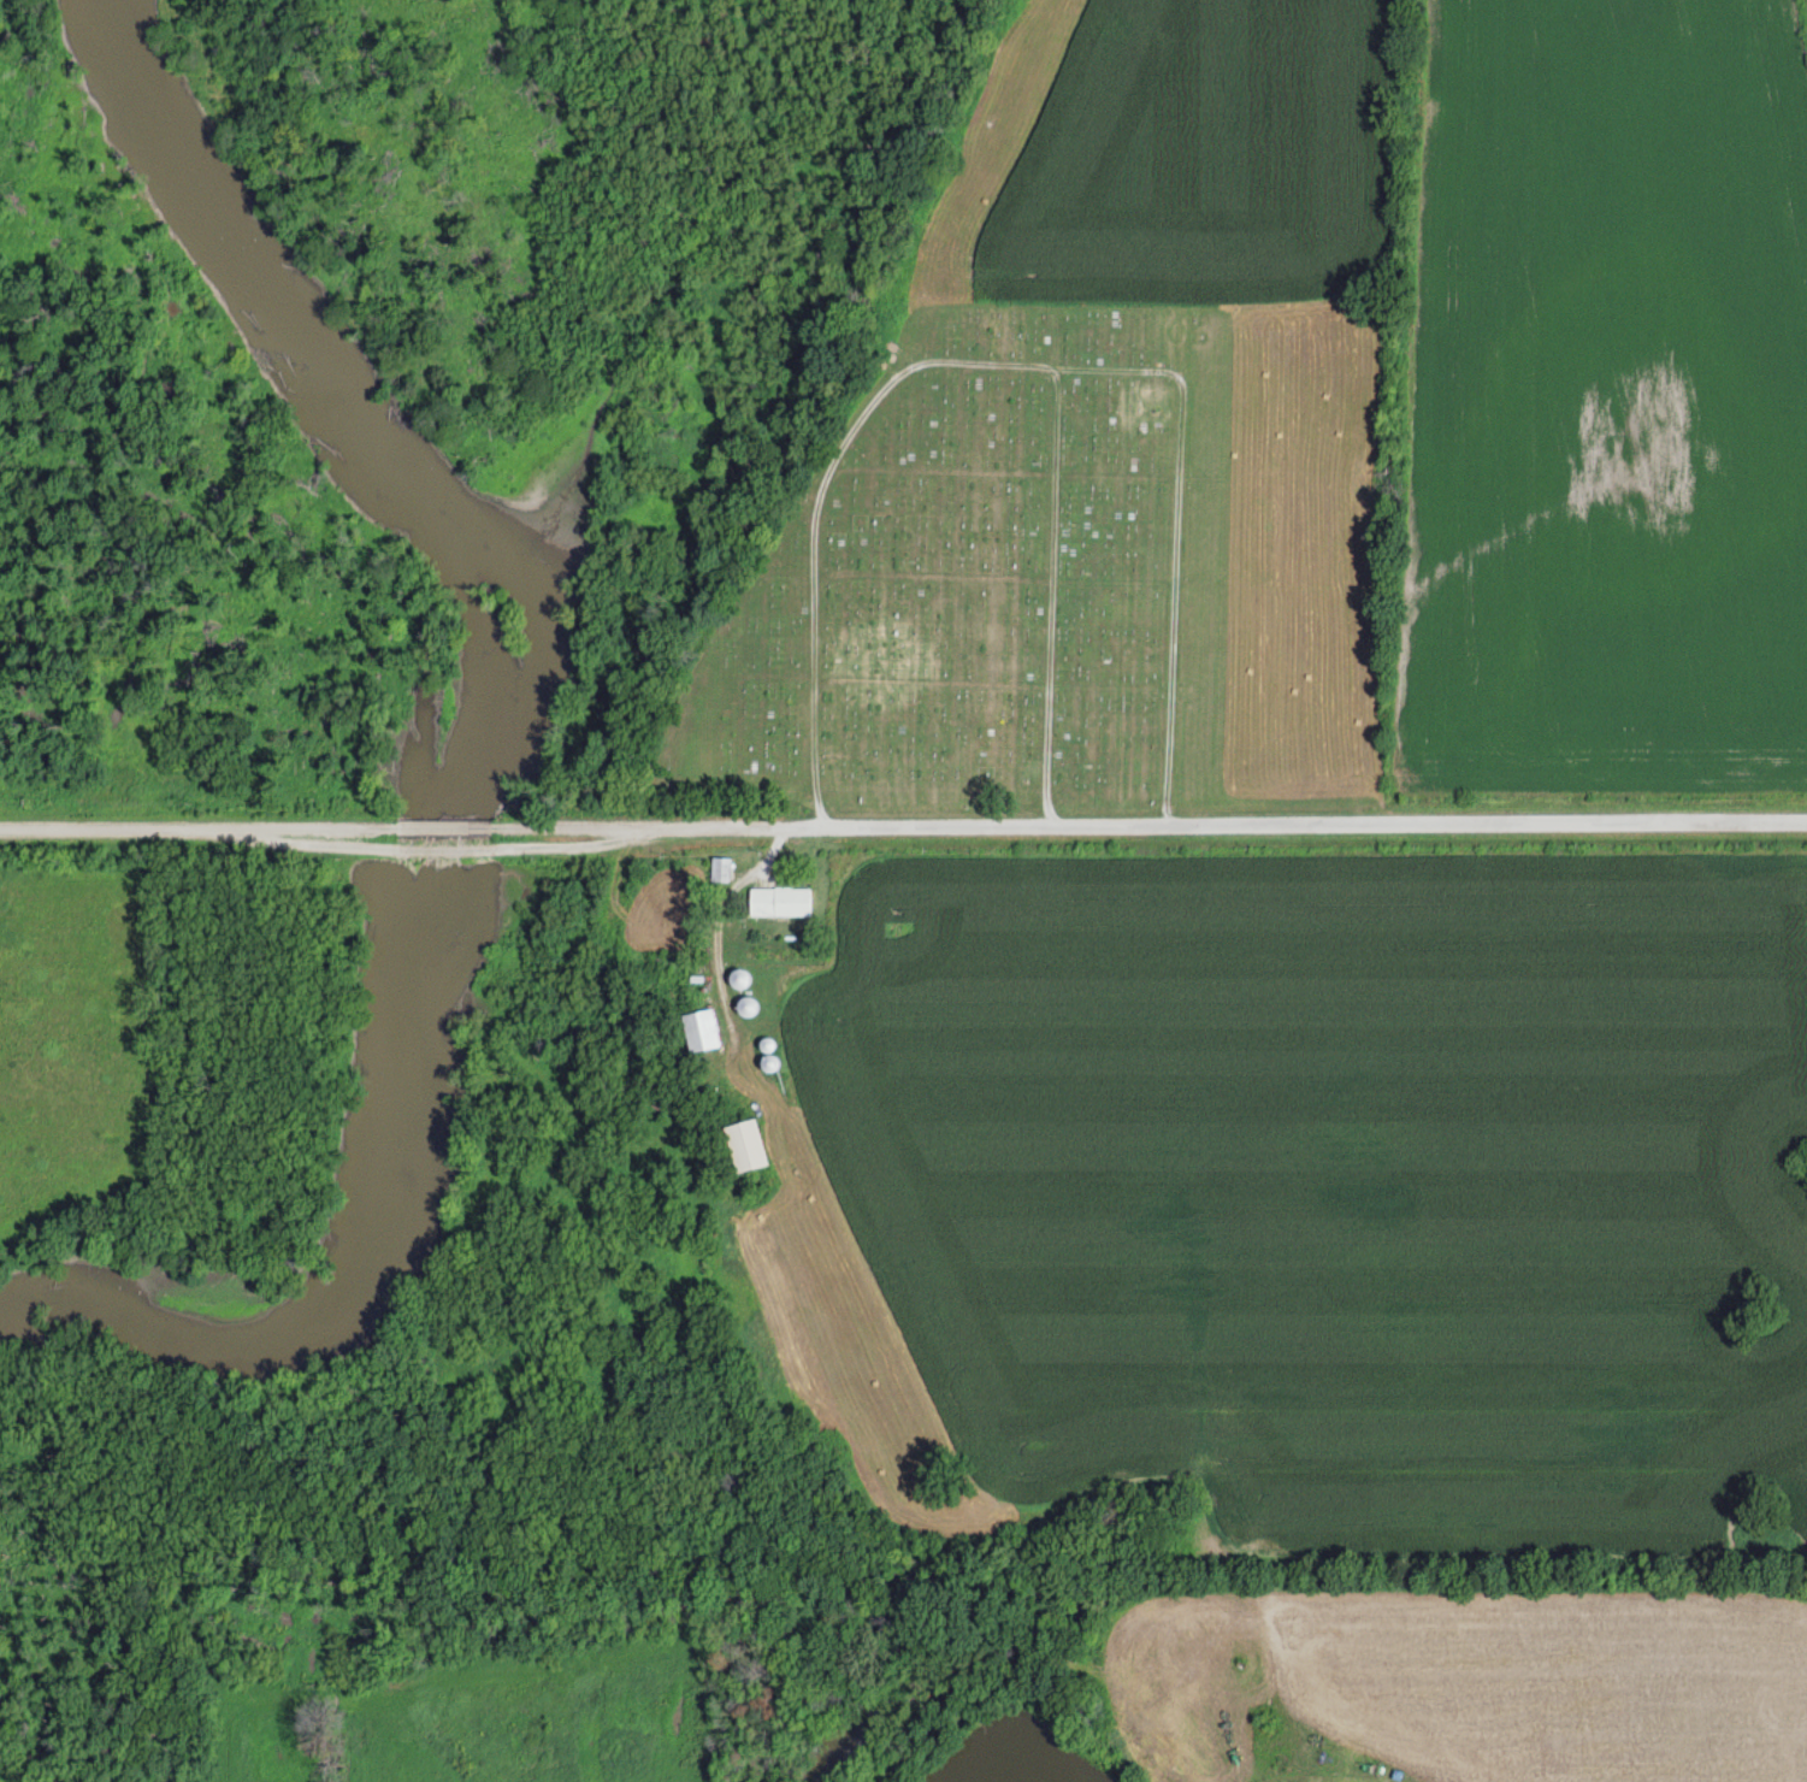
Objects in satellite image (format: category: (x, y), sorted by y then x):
road: (972, 364)
road: (1175, 543)
road: (935, 579)
park: (987, 580)
road: (189, 826)
road: (445, 827)
road: (1159, 828)
building: (719, 868)
building: (779, 901)
road: (721, 958)
building: (737, 978)
building: (744, 1005)
building: (698, 1029)
building: (743, 1145)

